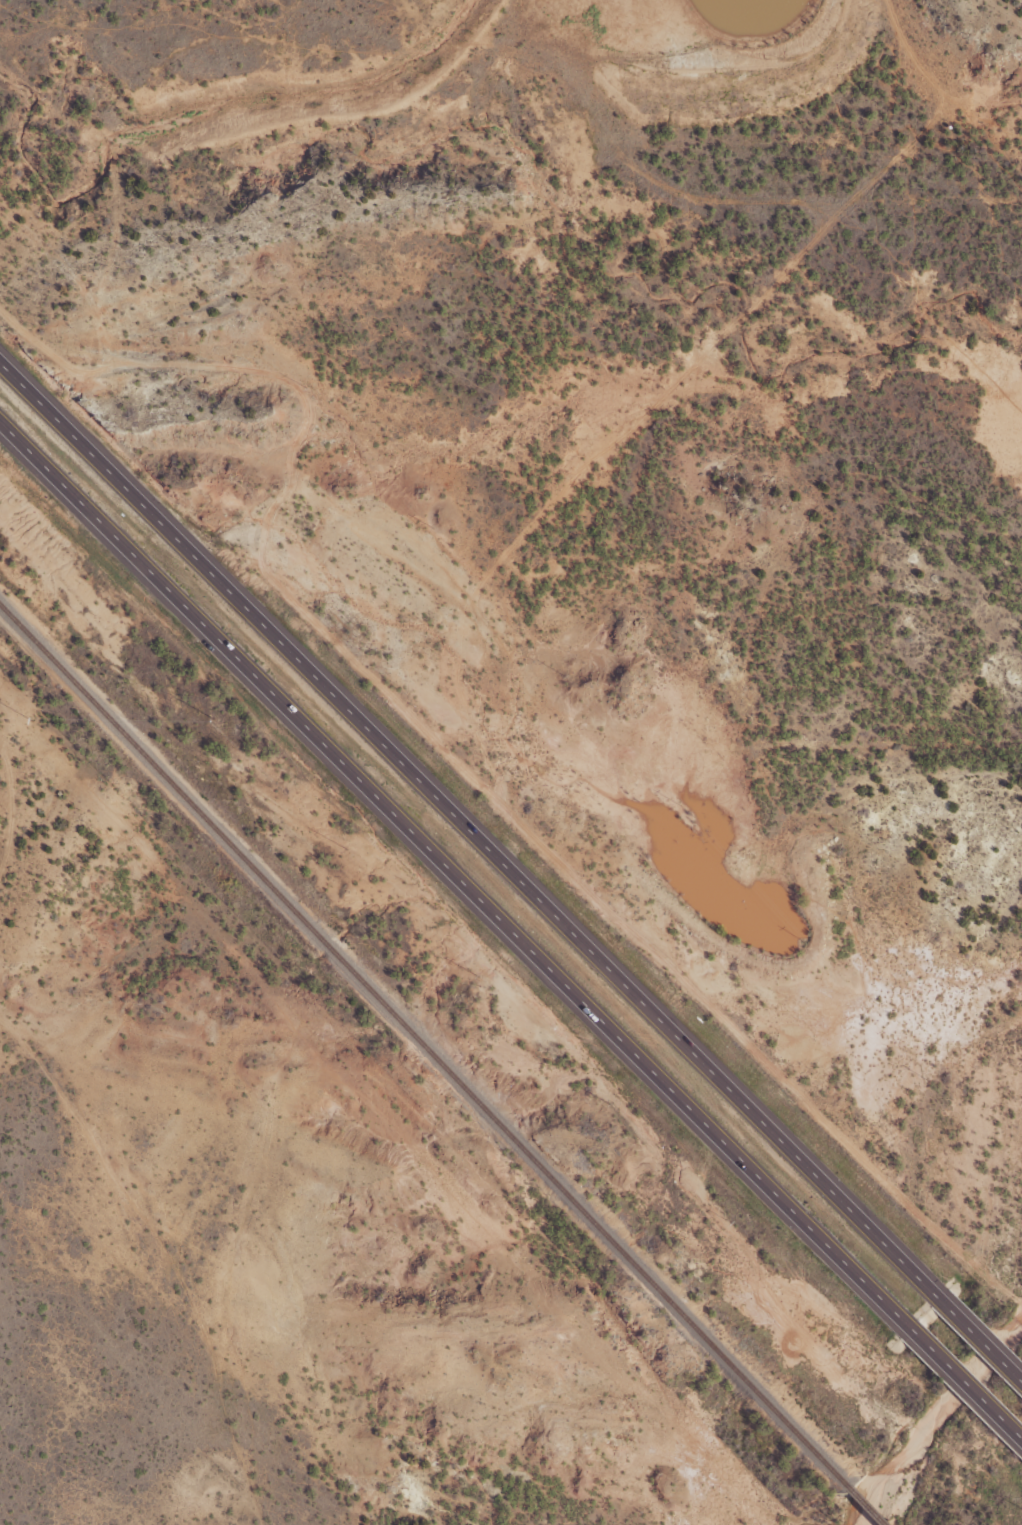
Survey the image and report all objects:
road: (469, 828)
road: (455, 866)
railway: (421, 1048)
road: (980, 1338)
road: (965, 1381)
railway: (861, 1506)

